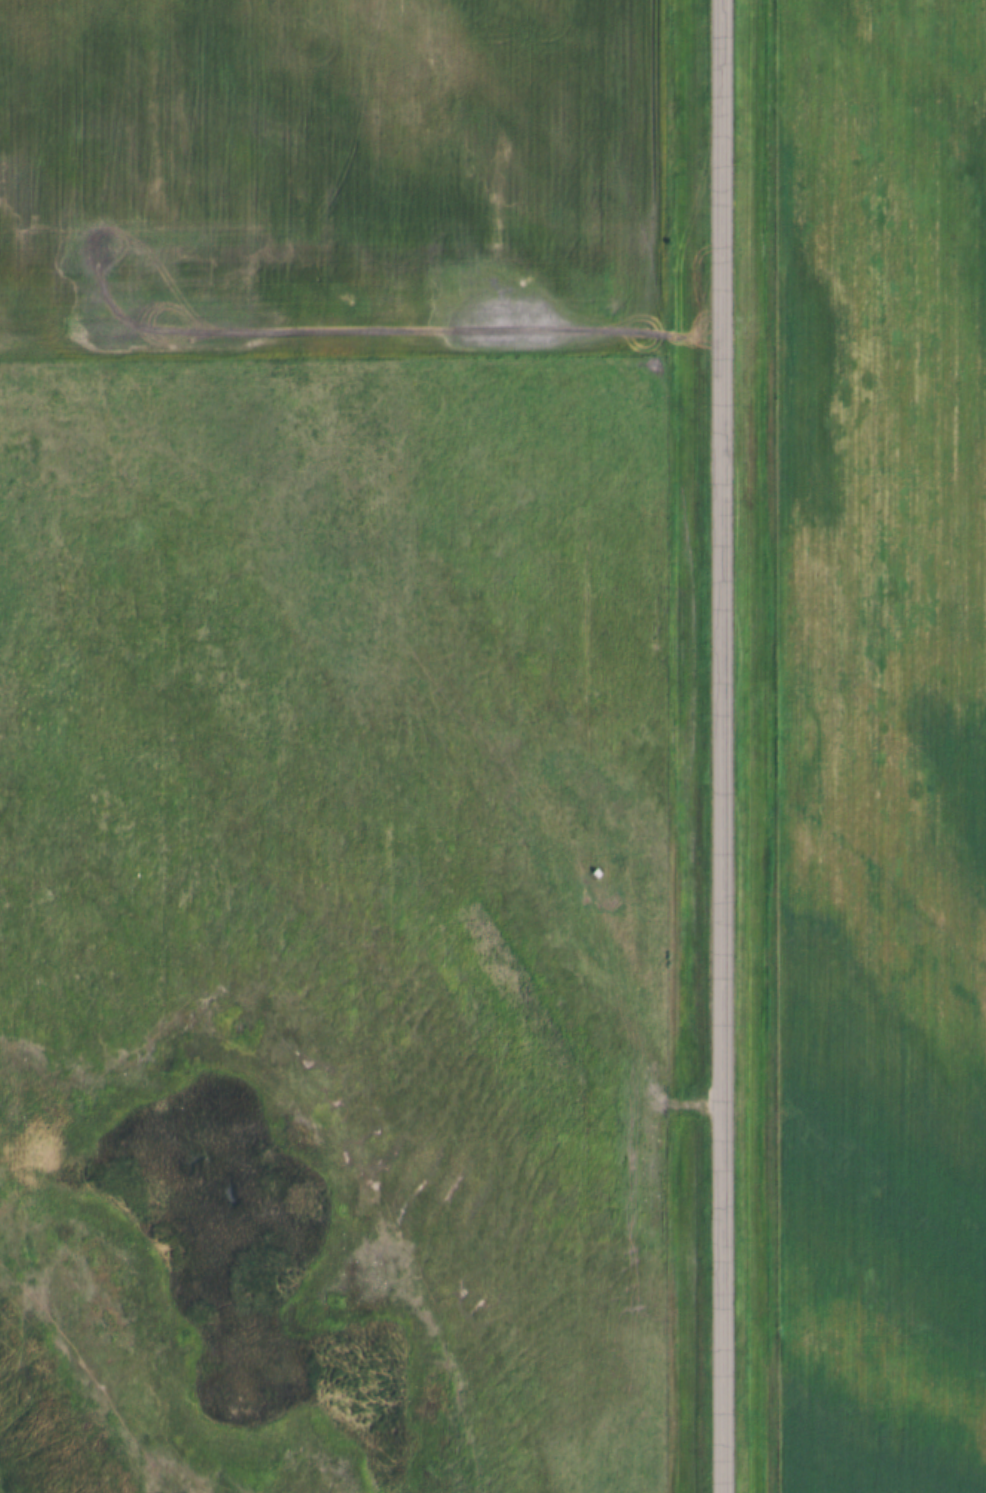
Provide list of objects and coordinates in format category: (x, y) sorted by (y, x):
road: (718, 746)

